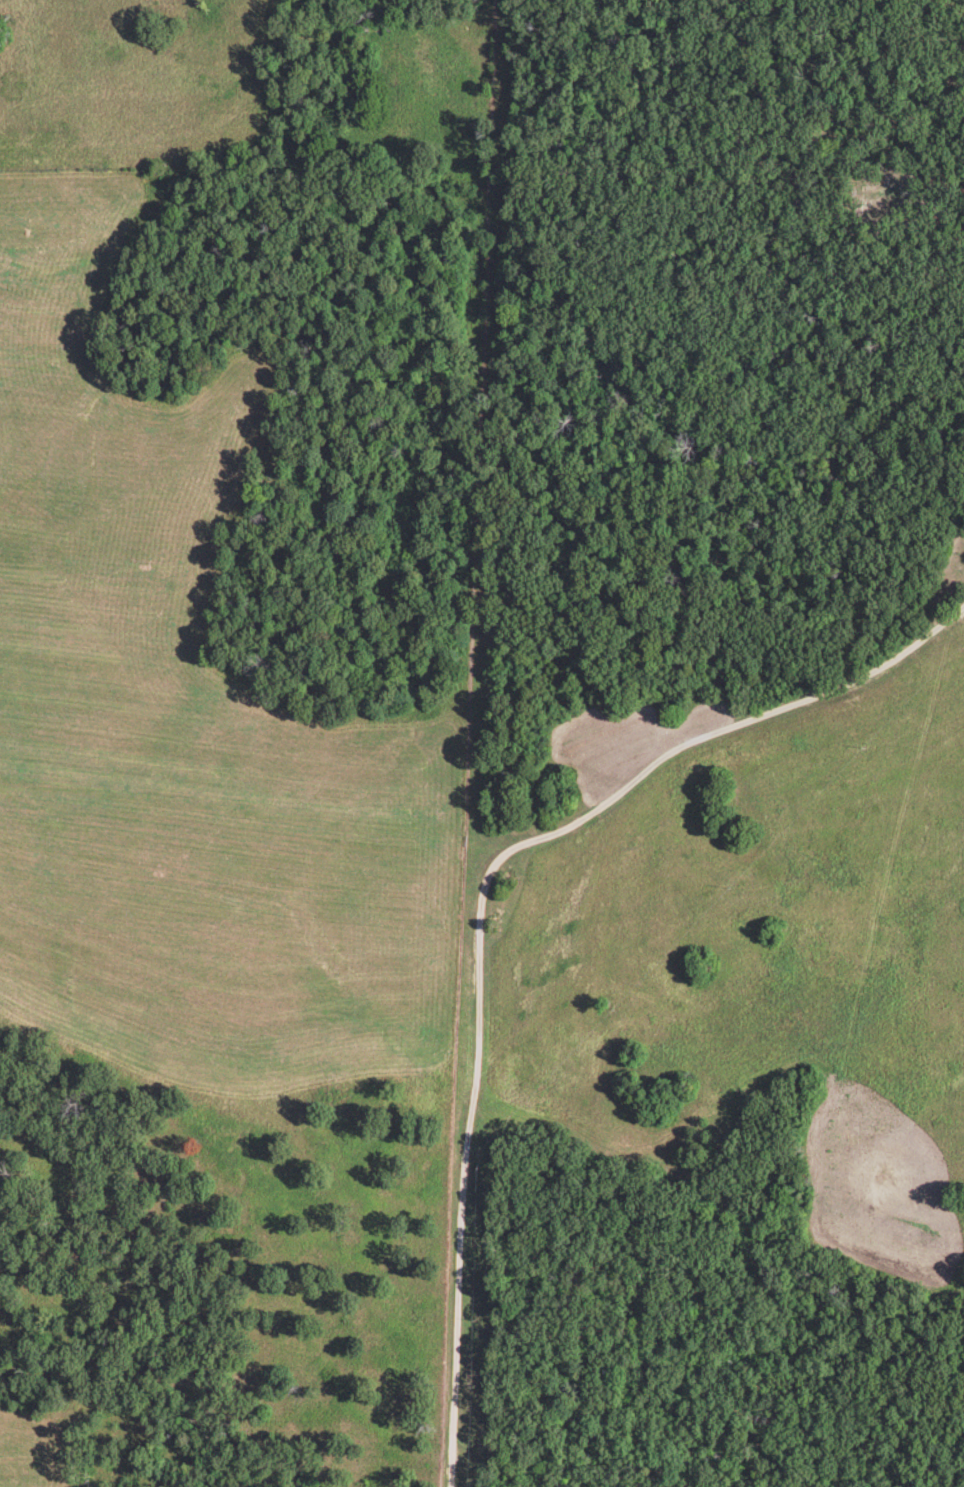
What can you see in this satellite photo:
road: (480, 902)

